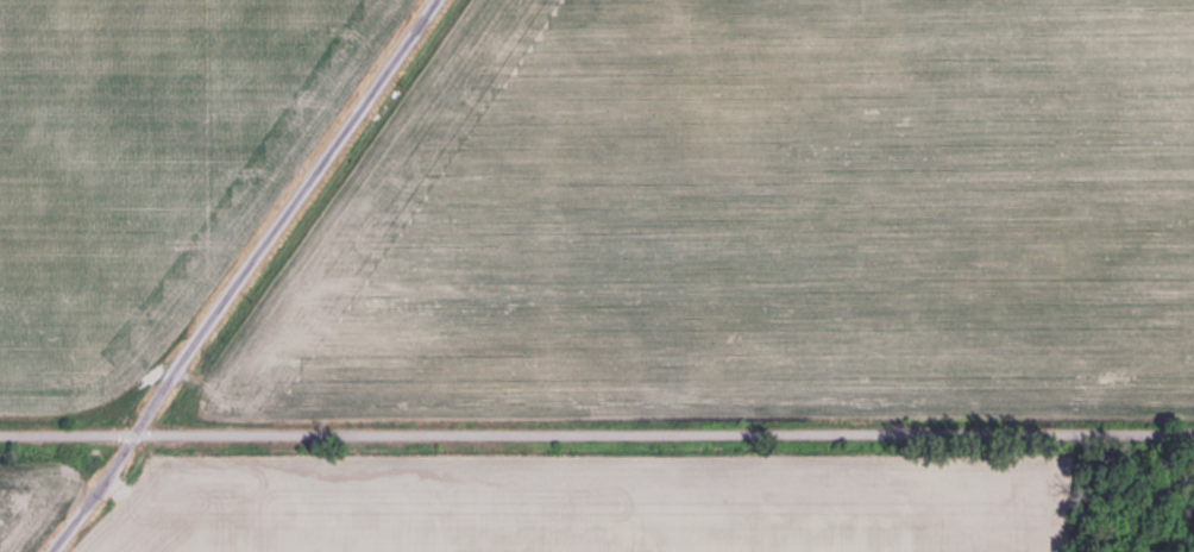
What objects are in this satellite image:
road: (246, 277)
road: (597, 431)

